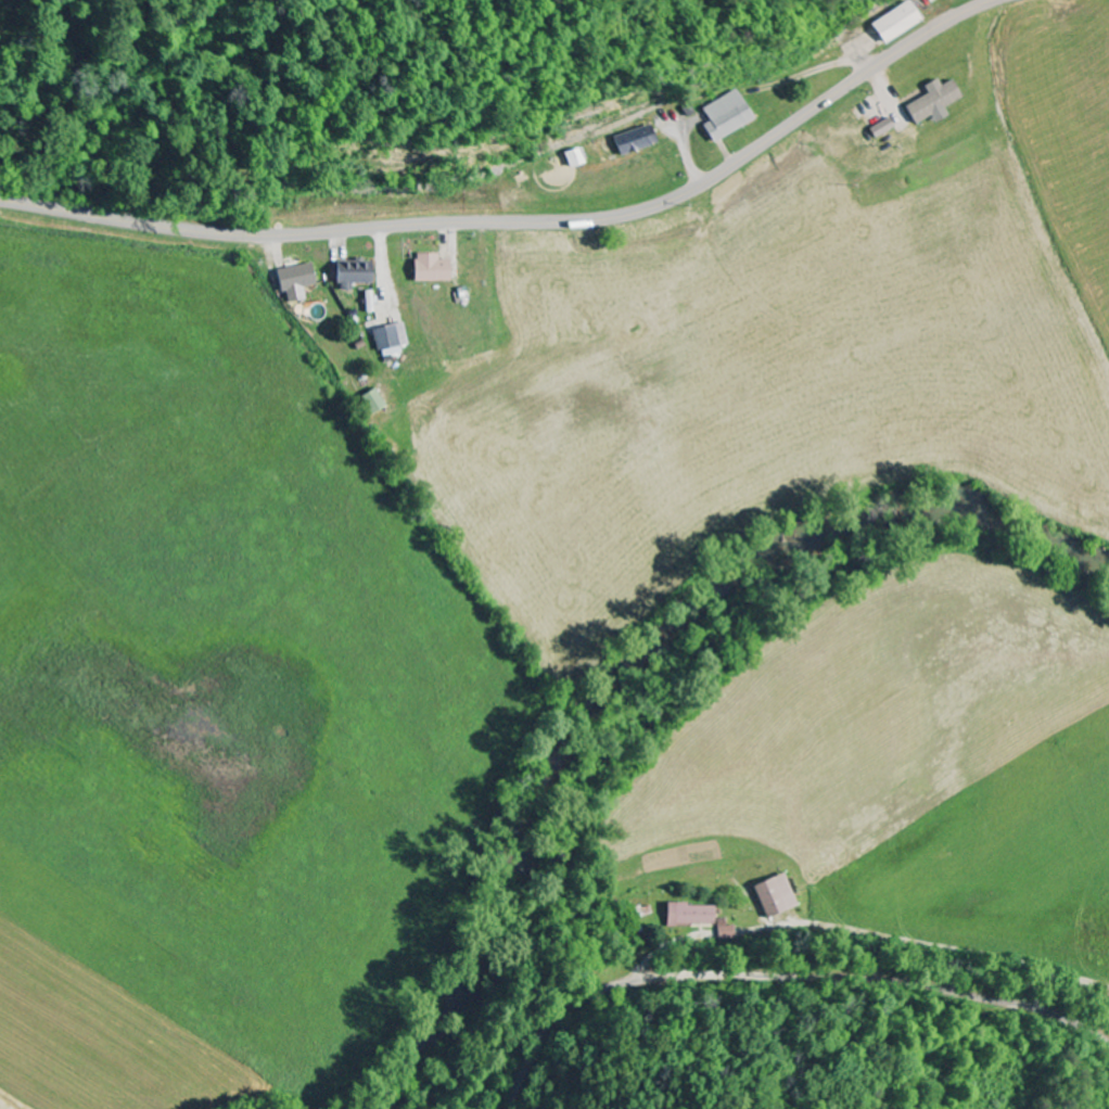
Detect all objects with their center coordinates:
building: (895, 23)
building: (931, 102)
building: (726, 117)
building: (880, 129)
building: (635, 140)
building: (573, 158)
road: (527, 221)
building: (429, 269)
building: (350, 275)
building: (293, 282)
building: (388, 341)
building: (370, 403)
river: (635, 659)
building: (774, 895)
building: (689, 915)
building: (727, 931)
road: (781, 981)

